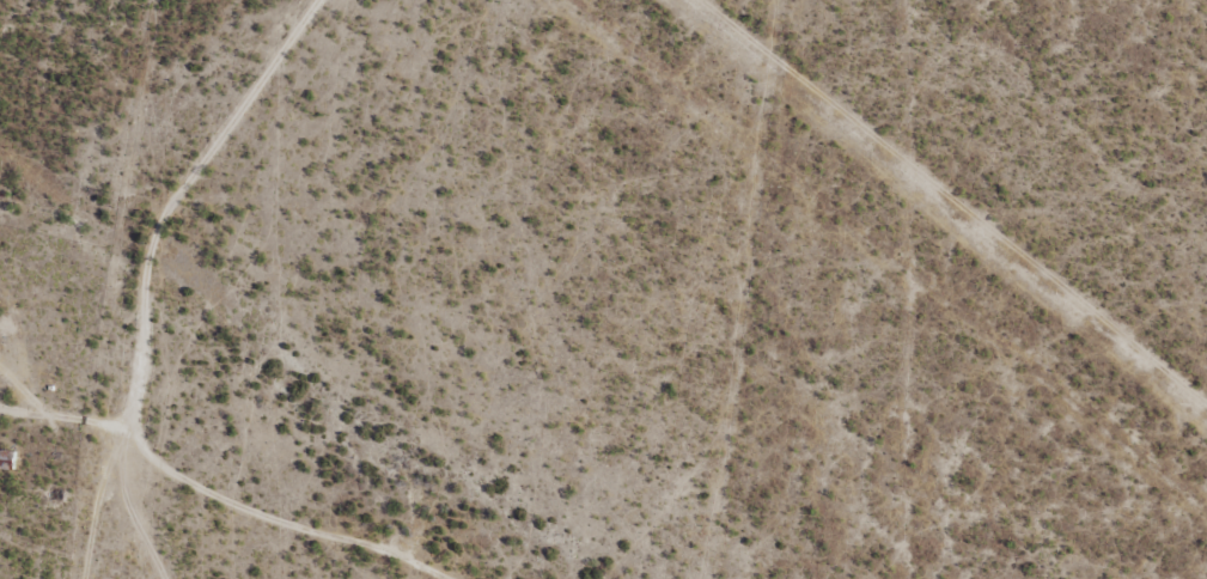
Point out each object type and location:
road: (169, 278)
road: (231, 483)

